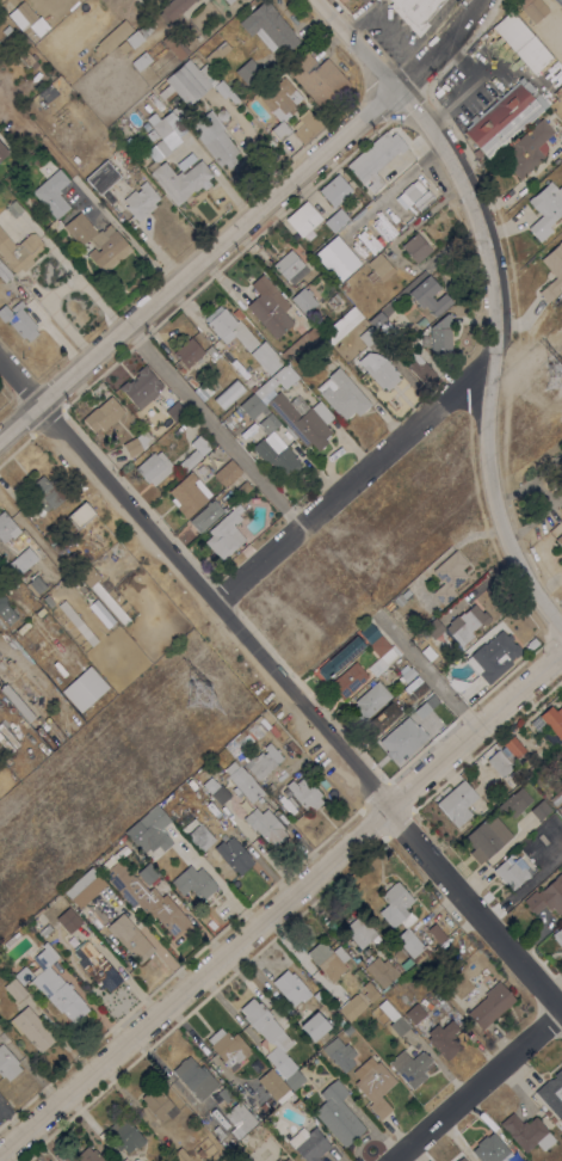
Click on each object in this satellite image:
building: (229, 1)
building: (364, 1)
building: (558, 2)
building: (173, 8)
building: (532, 8)
building: (25, 12)
building: (414, 12)
road: (360, 23)
building: (268, 26)
building: (6, 29)
building: (63, 36)
building: (116, 36)
building: (134, 37)
road: (399, 37)
building: (521, 41)
building: (175, 45)
building: (50, 49)
building: (217, 53)
building: (27, 59)
building: (141, 60)
building: (249, 72)
building: (317, 78)
building: (193, 82)
building: (48, 92)
building: (280, 104)
building: (177, 112)
building: (197, 112)
building: (504, 118)
building: (308, 125)
building: (163, 133)
building: (215, 139)
building: (527, 148)
building: (2, 152)
building: (376, 158)
building: (103, 176)
building: (181, 177)
building: (335, 190)
building: (53, 192)
building: (415, 195)
building: (363, 198)
building: (141, 199)
building: (13, 208)
building: (545, 208)
building: (303, 217)
building: (335, 219)
road: (243, 223)
road: (123, 234)
building: (98, 241)
building: (416, 247)
building: (19, 250)
building: (336, 258)
building: (288, 264)
building: (376, 270)
building: (552, 271)
building: (4, 272)
building: (430, 295)
road: (494, 297)
building: (304, 300)
building: (268, 306)
building: (357, 315)
building: (19, 319)
building: (377, 319)
building: (322, 320)
building: (421, 321)
building: (229, 326)
building: (387, 328)
building: (440, 334)
building: (365, 336)
building: (317, 345)
building: (210, 351)
building: (189, 352)
building: (266, 357)
building: (420, 368)
building: (382, 373)
power tower: (552, 374)
building: (141, 386)
building: (203, 389)
building: (266, 391)
building: (229, 393)
building: (342, 394)
building: (175, 411)
building: (103, 414)
building: (268, 418)
building: (302, 418)
building: (230, 422)
road: (214, 426)
building: (135, 443)
building: (194, 451)
building: (277, 457)
building: (560, 461)
building: (154, 467)
building: (227, 472)
road: (346, 483)
building: (242, 487)
building: (561, 490)
building: (45, 493)
building: (187, 494)
building: (80, 514)
building: (205, 515)
building: (7, 527)
building: (226, 534)
building: (558, 539)
building: (54, 542)
building: (23, 560)
building: (449, 575)
building: (35, 585)
building: (103, 594)
building: (400, 598)
building: (48, 600)
building: (389, 604)
building: (6, 610)
building: (41, 612)
building: (78, 622)
building: (467, 623)
building: (433, 628)
building: (369, 633)
building: (383, 650)
building: (428, 652)
building: (493, 656)
building: (340, 657)
road: (426, 671)
building: (407, 674)
building: (348, 678)
building: (457, 683)
building: (85, 688)
building: (419, 689)
road: (277, 692)
power tower: (197, 695)
building: (370, 700)
building: (383, 718)
building: (414, 718)
building: (552, 720)
building: (248, 730)
building: (395, 747)
building: (512, 748)
building: (561, 750)
building: (561, 756)
building: (241, 757)
building: (265, 761)
building: (499, 763)
building: (242, 781)
building: (217, 792)
building: (304, 793)
building: (556, 797)
building: (514, 801)
building: (457, 803)
building: (539, 809)
building: (265, 825)
building: (153, 830)
building: (200, 836)
building: (486, 838)
building: (234, 854)
building: (512, 871)
building: (148, 872)
building: (193, 881)
building: (85, 887)
building: (143, 895)
building: (546, 896)
road: (279, 903)
building: (396, 905)
building: (68, 920)
building: (45, 930)
building: (359, 930)
building: (437, 933)
building: (557, 935)
building: (130, 938)
building: (12, 939)
building: (410, 944)
building: (366, 951)
building: (437, 952)
building: (328, 959)
building: (97, 965)
building: (382, 970)
building: (23, 975)
building: (56, 984)
building: (291, 987)
building: (16, 989)
building: (371, 994)
building: (490, 1005)
building: (353, 1006)
building: (415, 1013)
building: (314, 1025)
building: (399, 1025)
building: (32, 1027)
building: (347, 1030)
building: (270, 1036)
building: (443, 1038)
building: (228, 1046)
building: (339, 1052)
building: (7, 1062)
building: (410, 1067)
building: (194, 1077)
building: (294, 1079)
building: (274, 1085)
building: (373, 1085)
road: (476, 1087)
building: (552, 1093)
building: (224, 1094)
building: (159, 1104)
building: (265, 1107)
building: (338, 1113)
building: (550, 1114)
building: (239, 1118)
building: (526, 1132)
building: (125, 1135)
building: (308, 1143)
building: (490, 1149)
building: (231, 1150)
building: (175, 1151)
building: (200, 1153)
building: (88, 1155)
building: (286, 1159)
building: (462, 1159)
building: (143, 1160)
building: (278, 1160)
building: (523, 1160)
building: (525, 1160)

